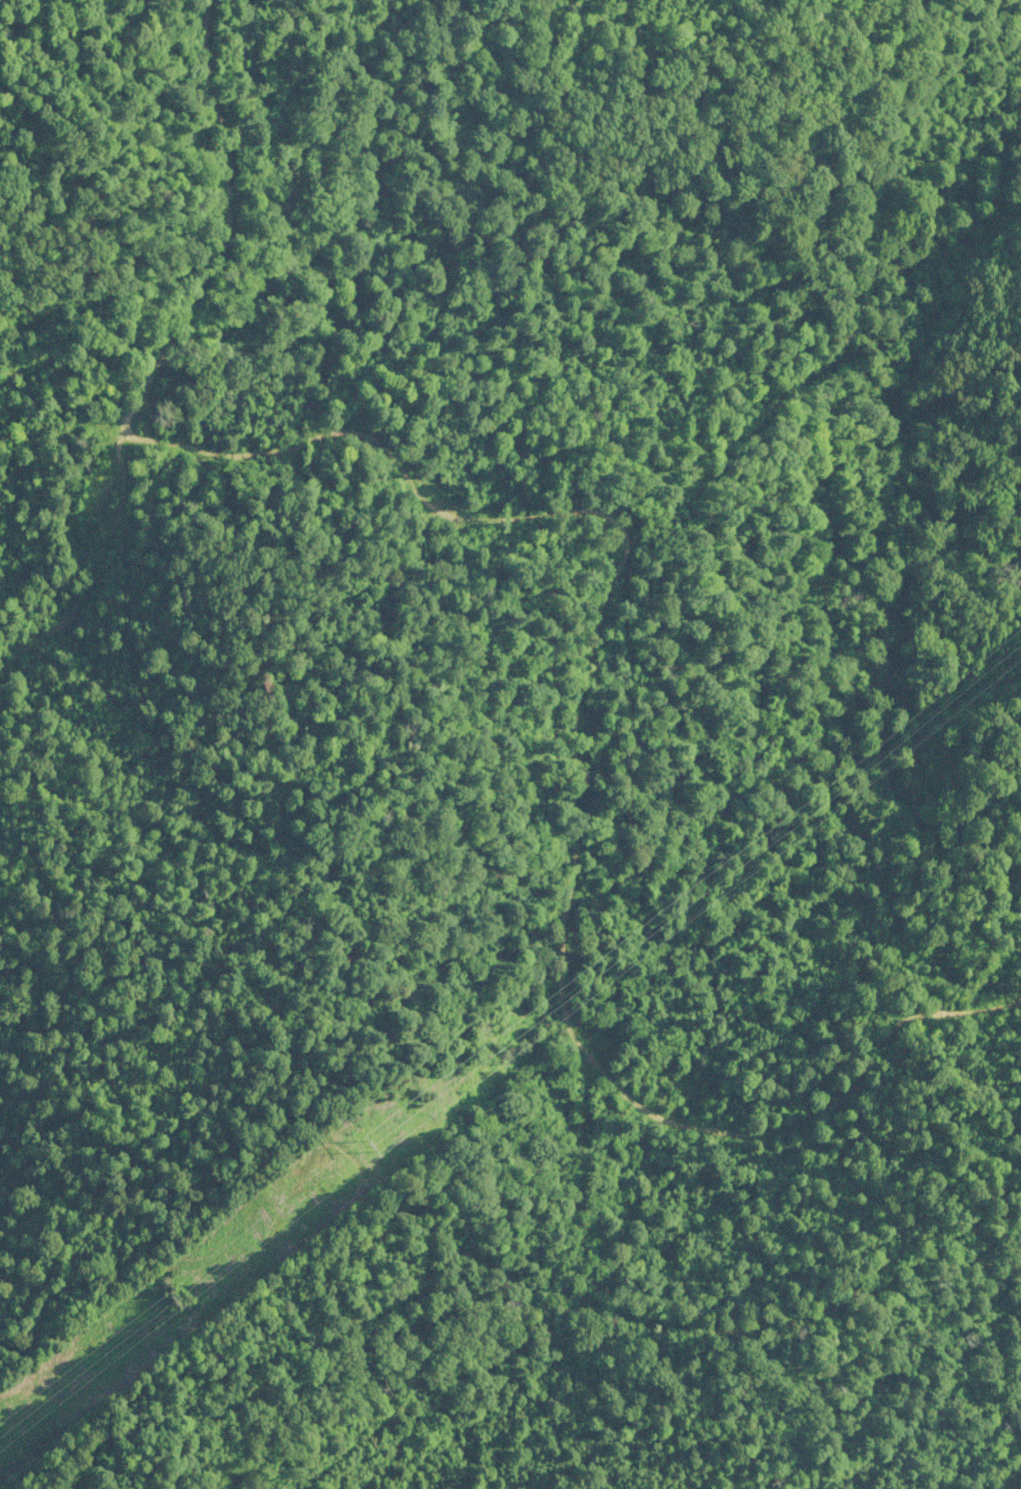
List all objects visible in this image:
power tower: (362, 1144)
power tower: (163, 1299)

